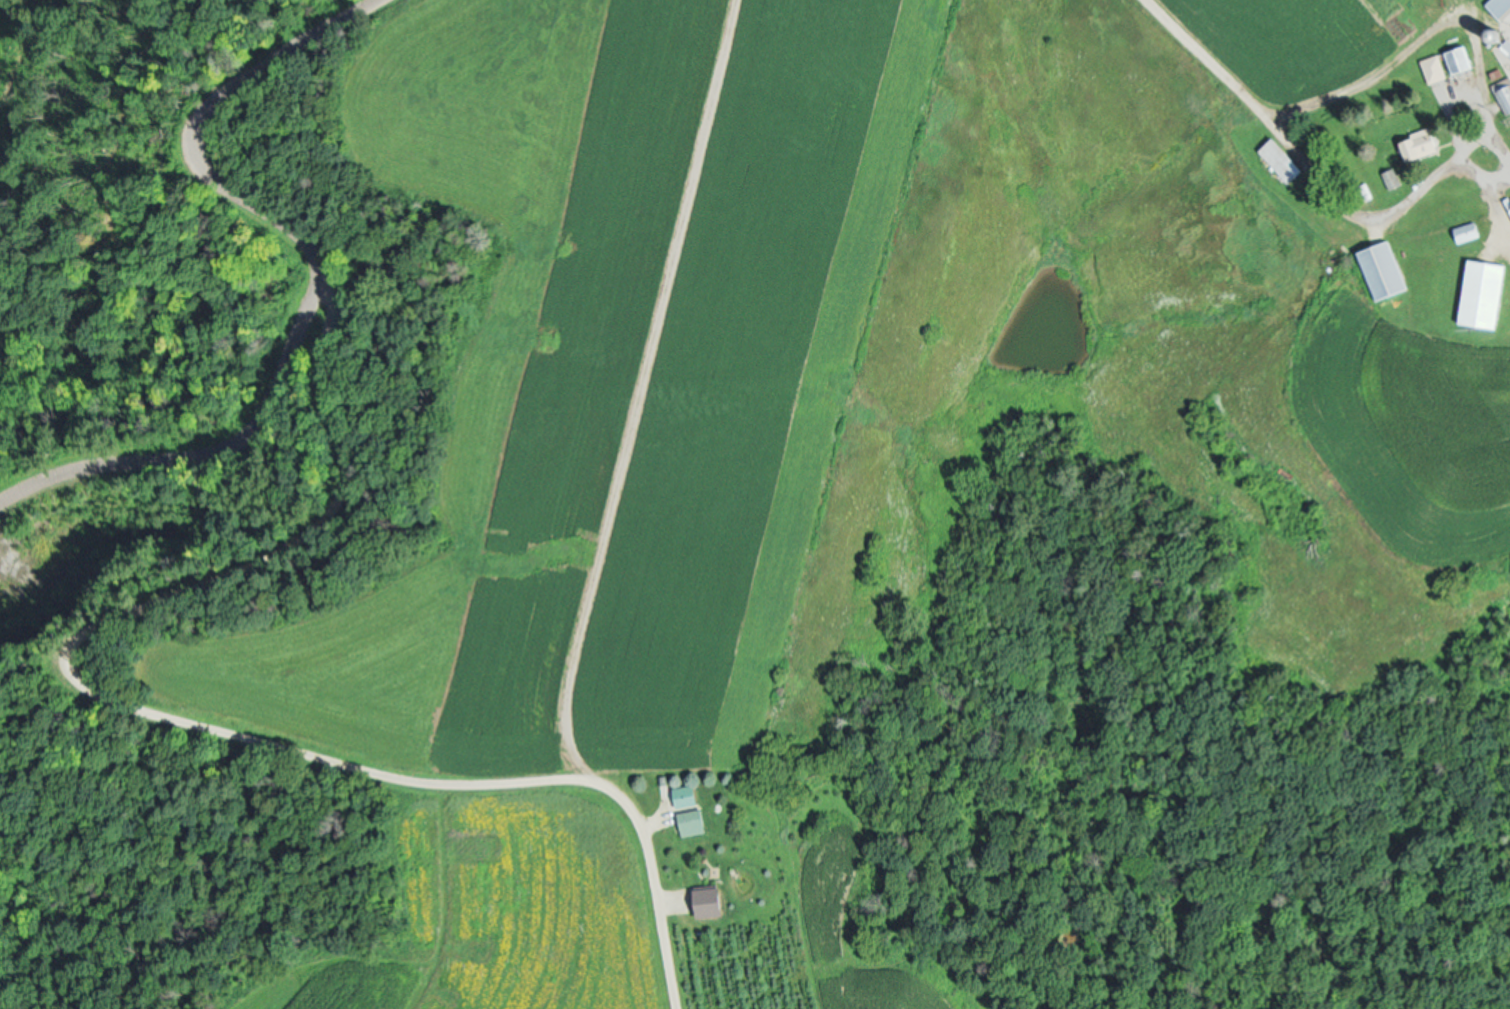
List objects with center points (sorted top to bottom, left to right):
building: (1501, 8)
building: (1499, 38)
building: (1460, 60)
building: (1435, 69)
building: (1503, 94)
road: (195, 128)
road: (1287, 147)
building: (1422, 147)
road: (1505, 158)
building: (1282, 161)
building: (1393, 179)
building: (1385, 269)
building: (1484, 294)
road: (202, 452)
road: (175, 718)
building: (691, 809)

